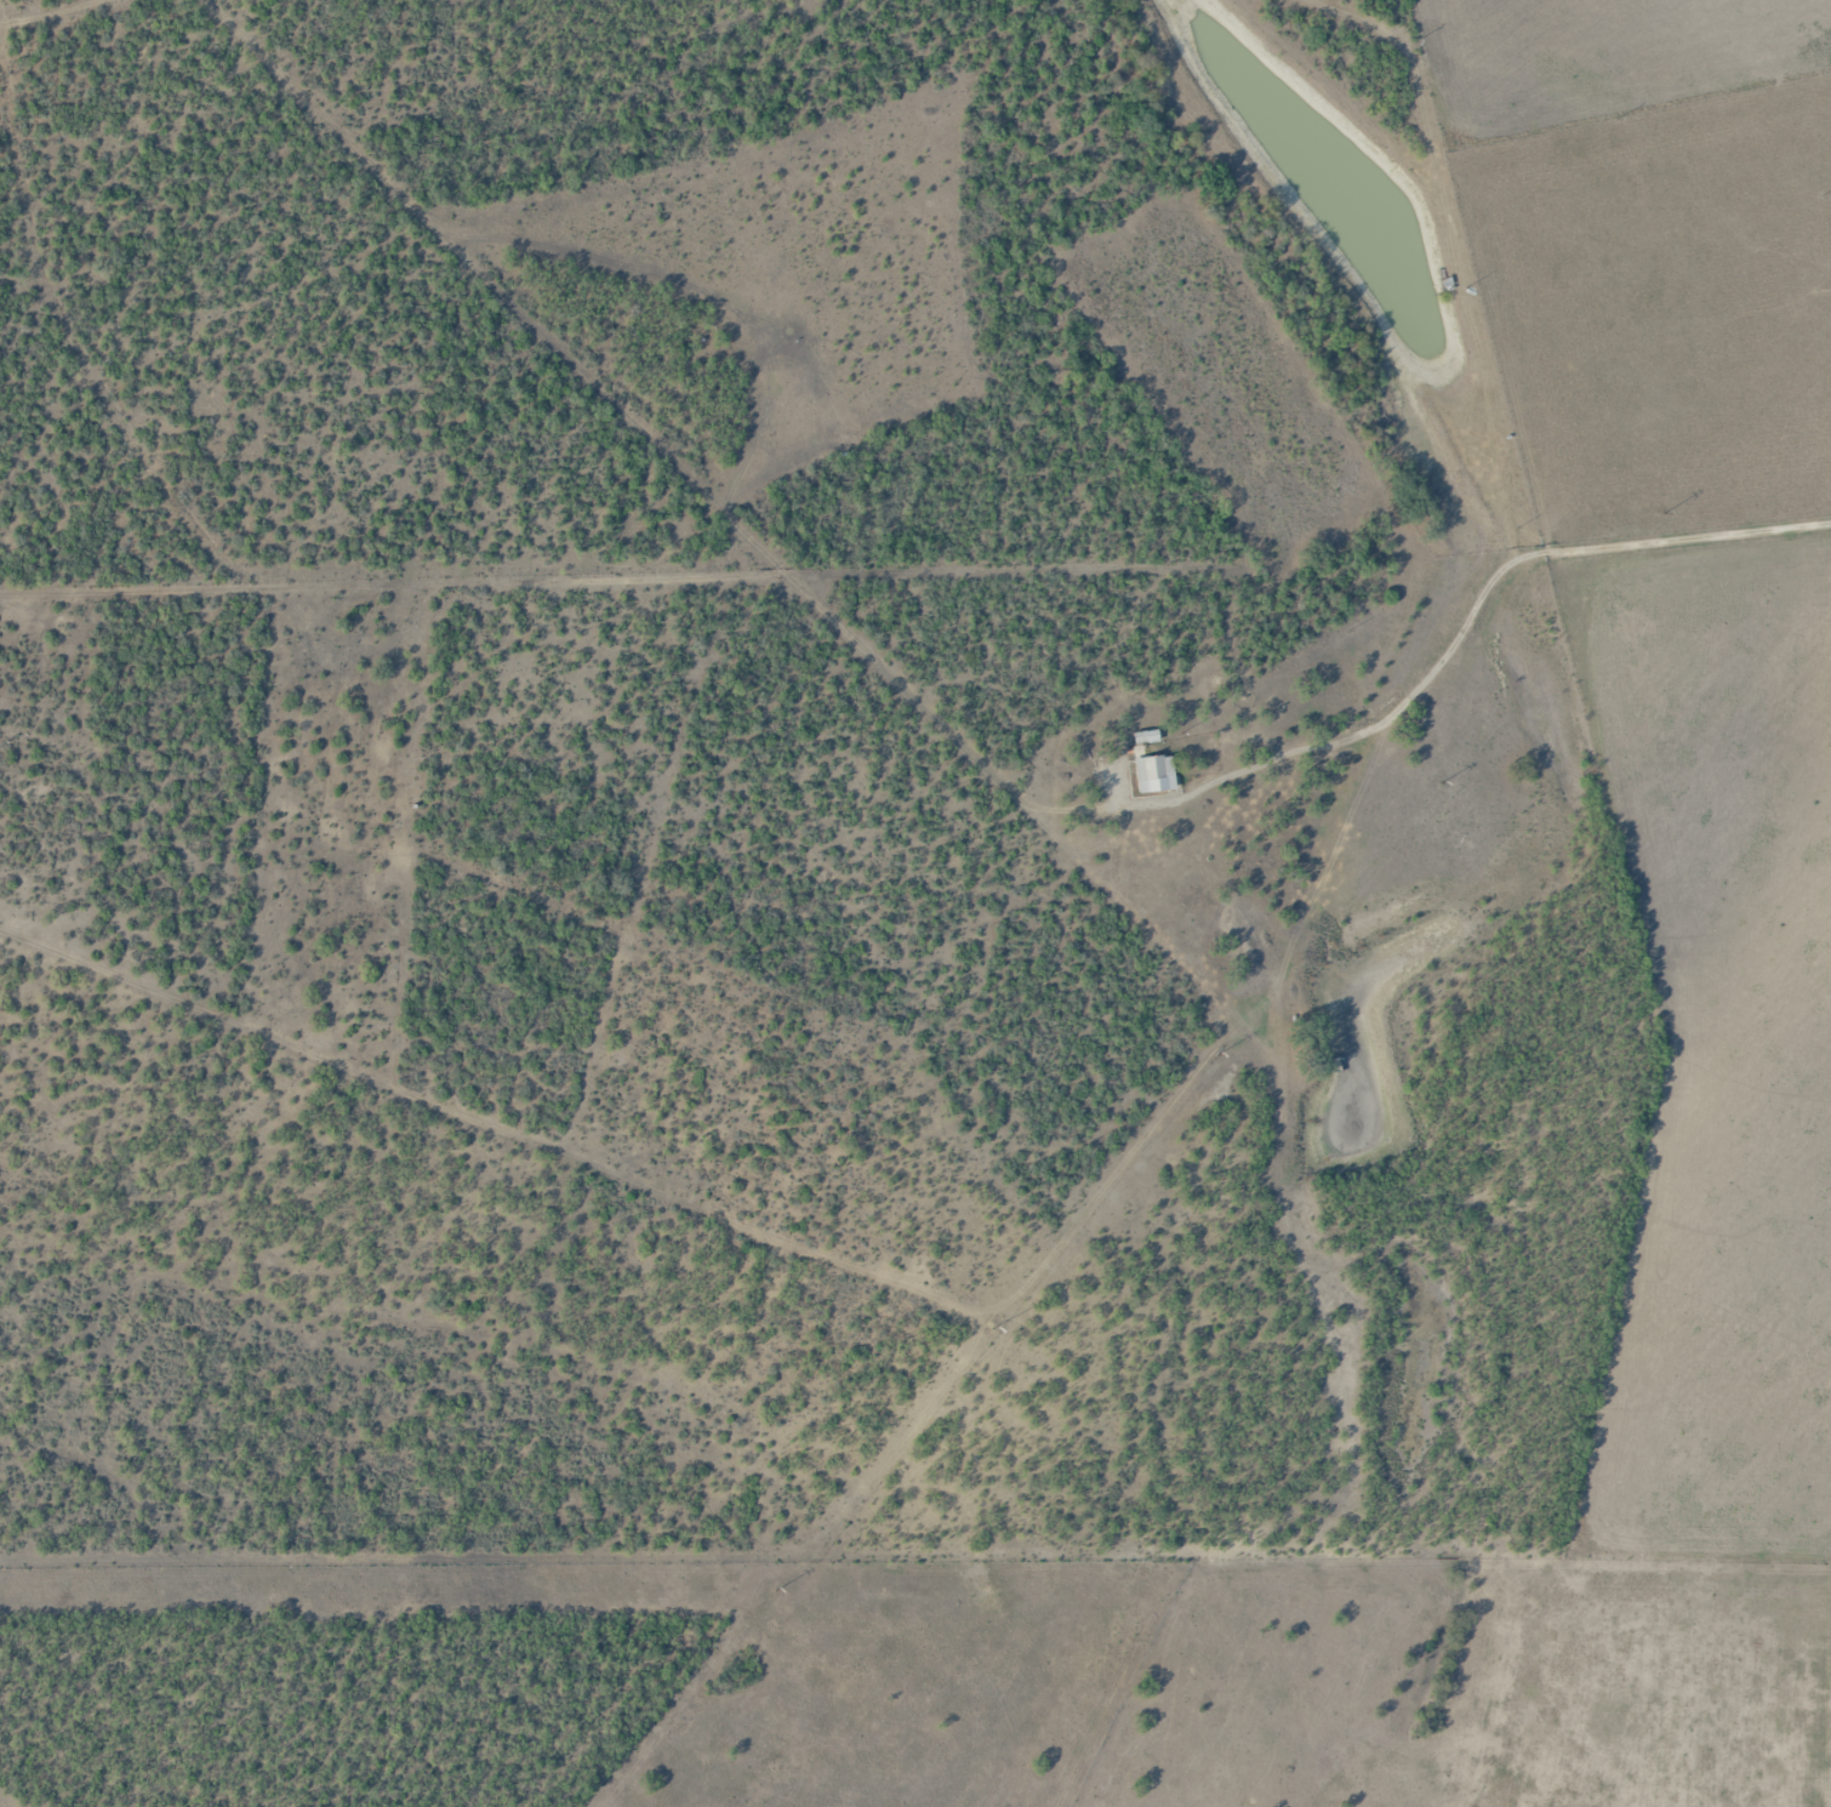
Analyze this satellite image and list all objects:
power tower: (1659, 509)
road: (737, 558)
road: (1596, 581)
building: (1157, 774)
power tower: (1439, 782)
power tower: (1222, 1054)
power tower: (996, 1328)
power tower: (777, 1589)

